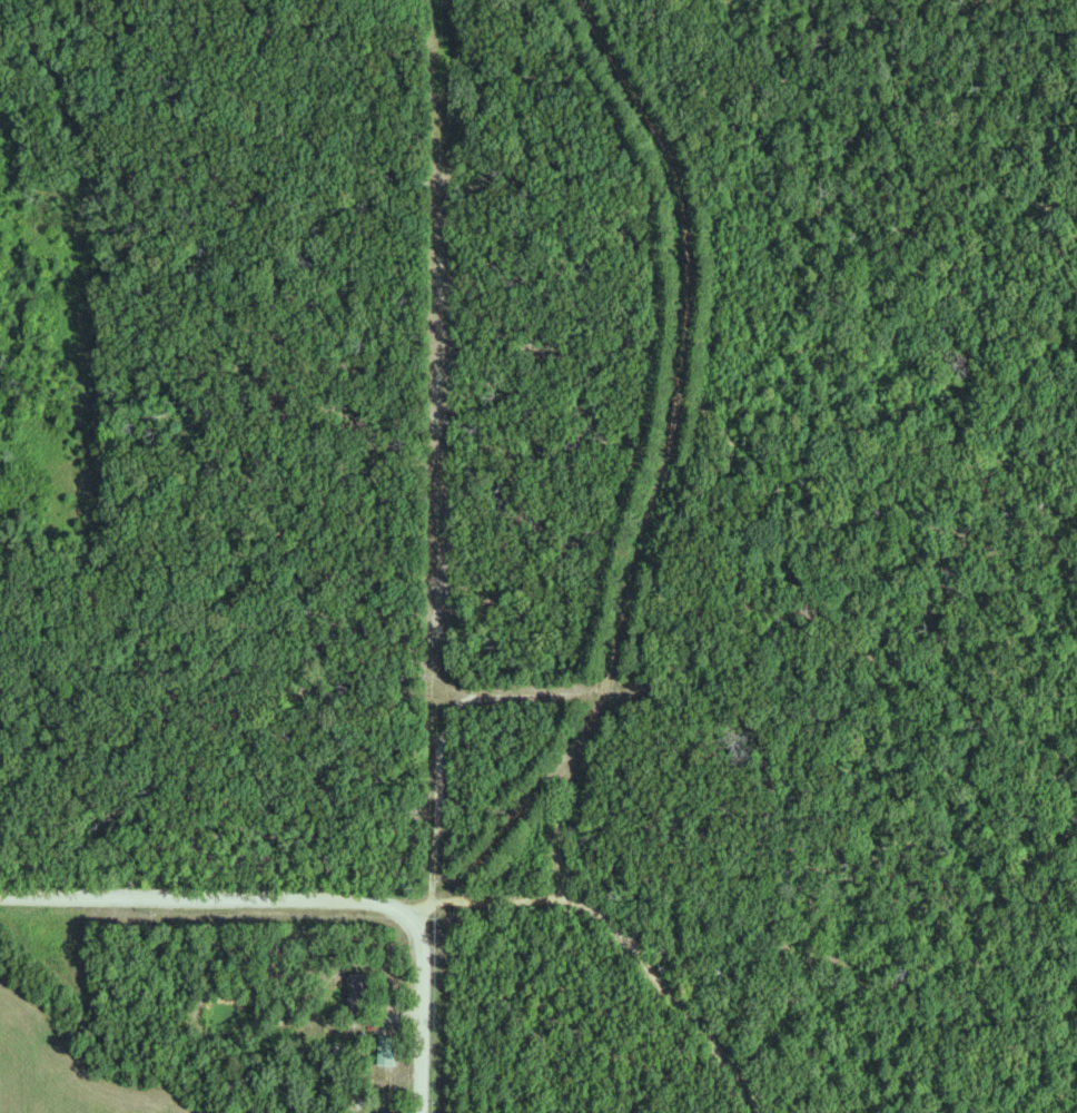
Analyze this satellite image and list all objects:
road: (666, 451)
road: (492, 854)
road: (210, 899)
road: (638, 943)
road: (423, 1007)
building: (391, 1047)

